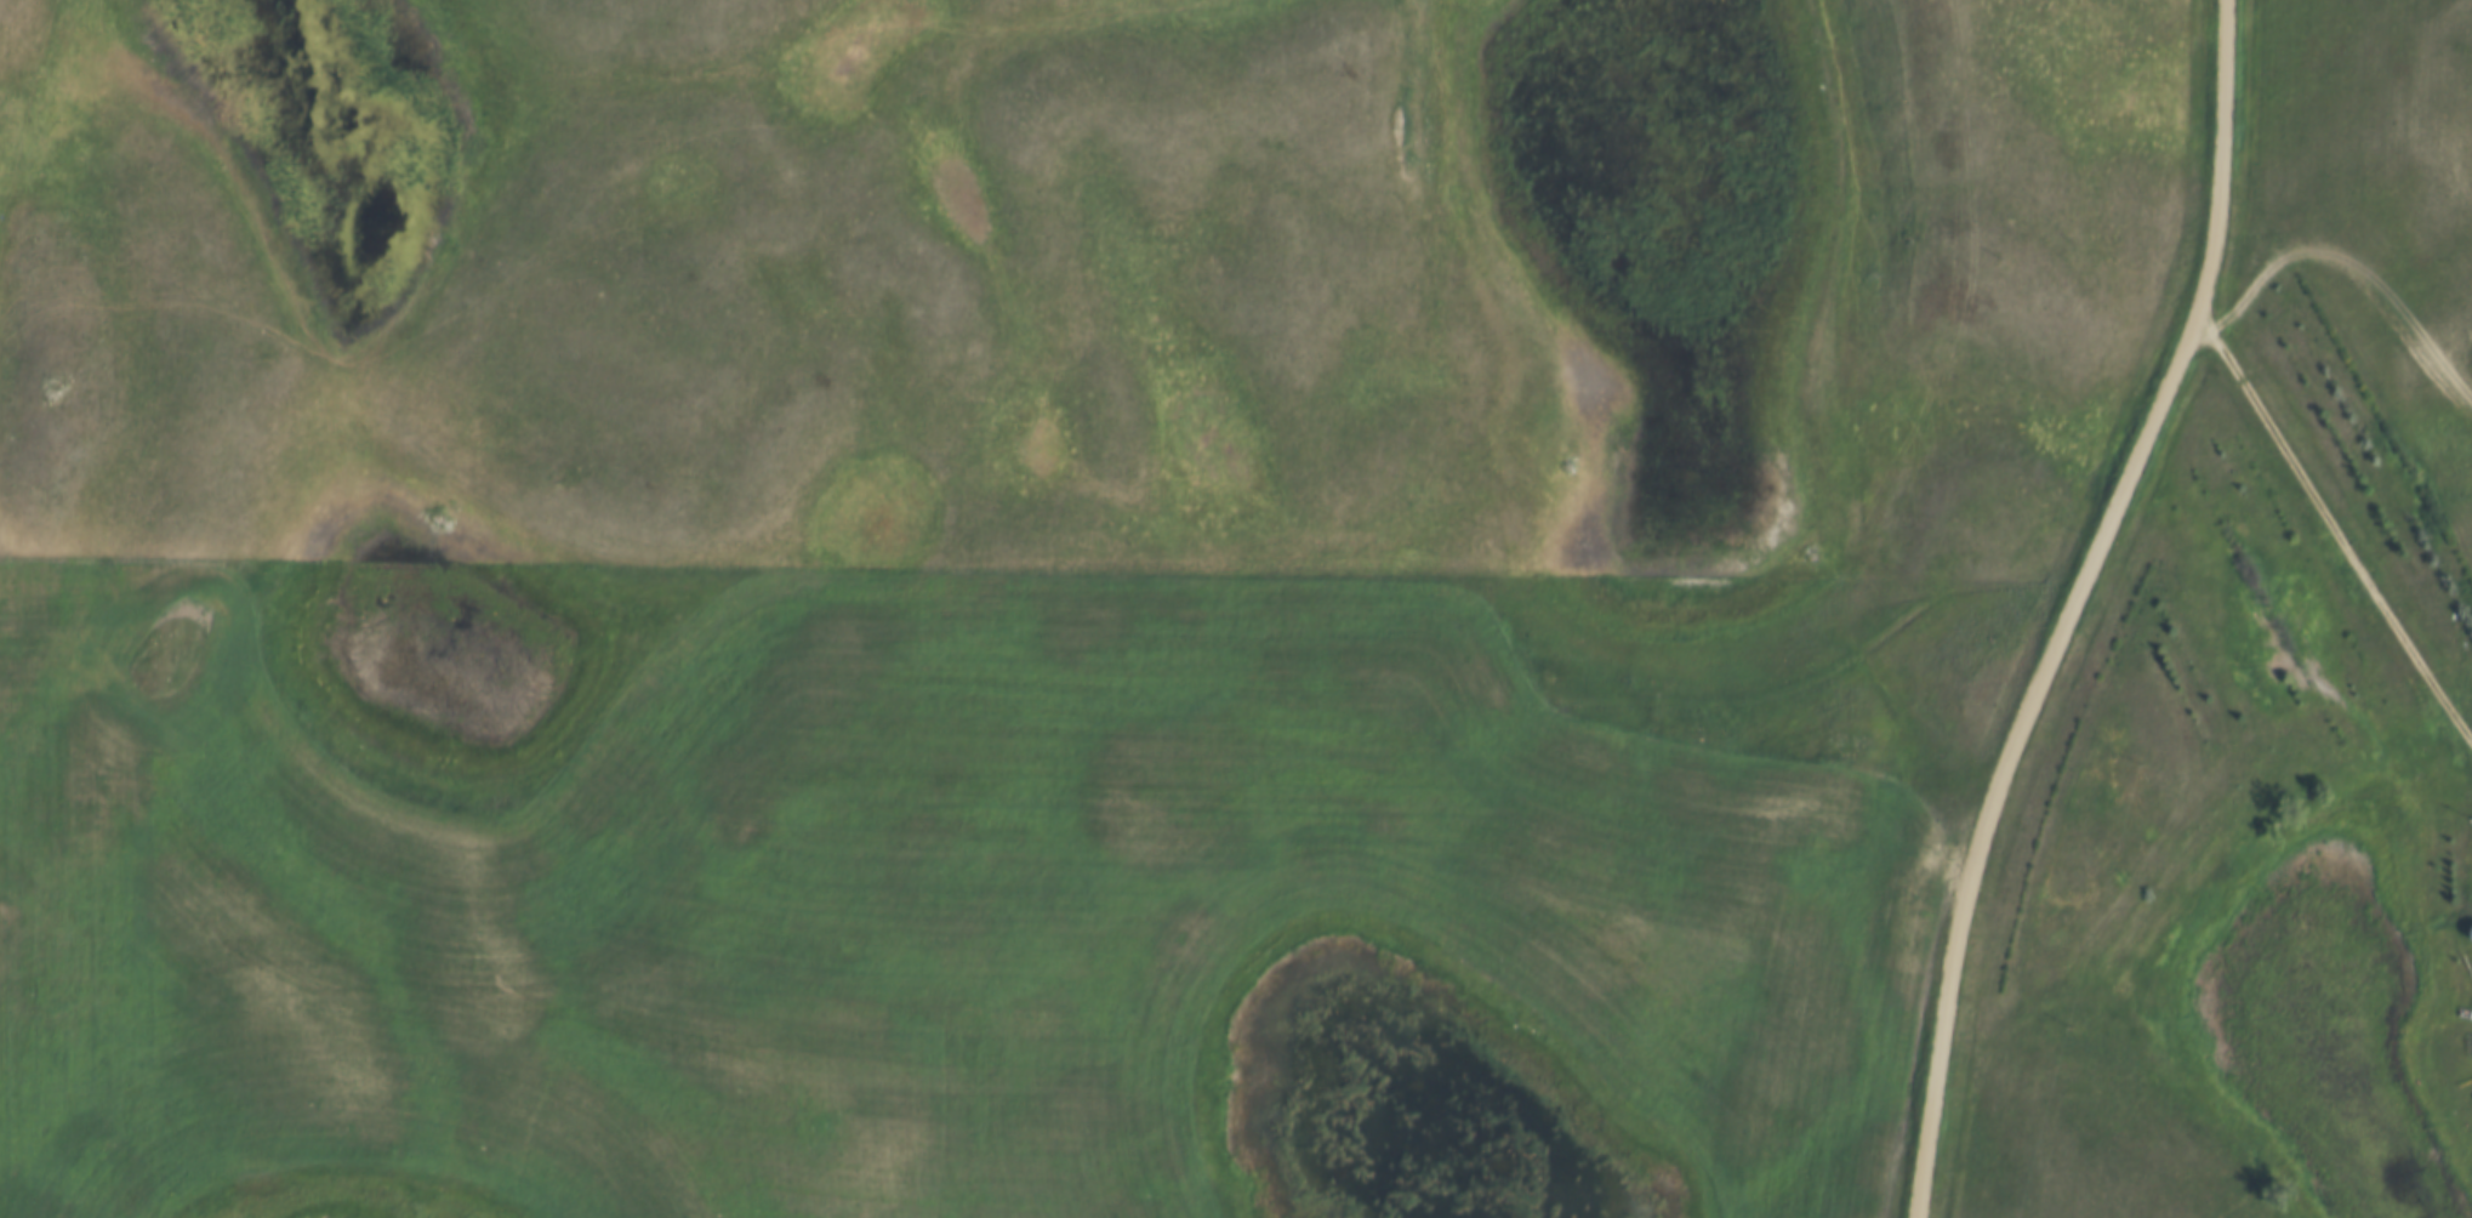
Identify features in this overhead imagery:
road: (2334, 527)
road: (2073, 607)

